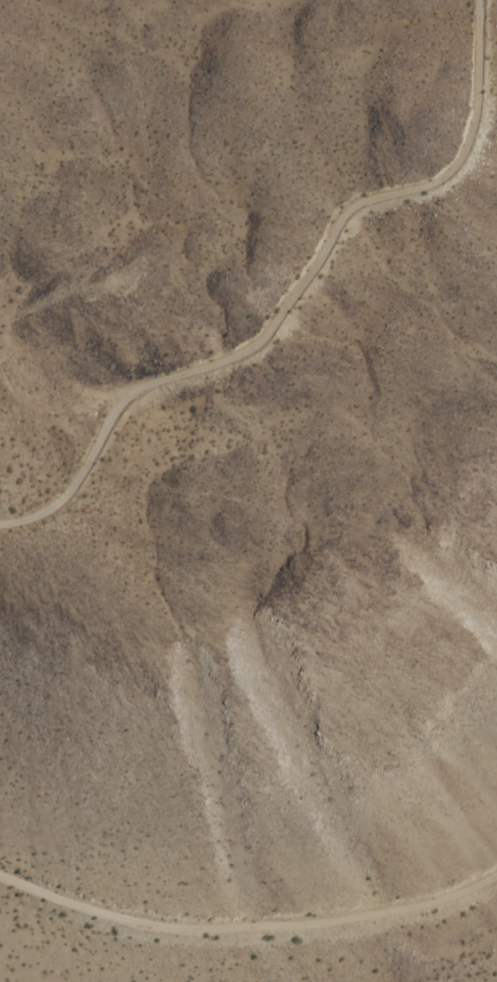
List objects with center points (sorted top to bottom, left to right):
road: (250, 936)

